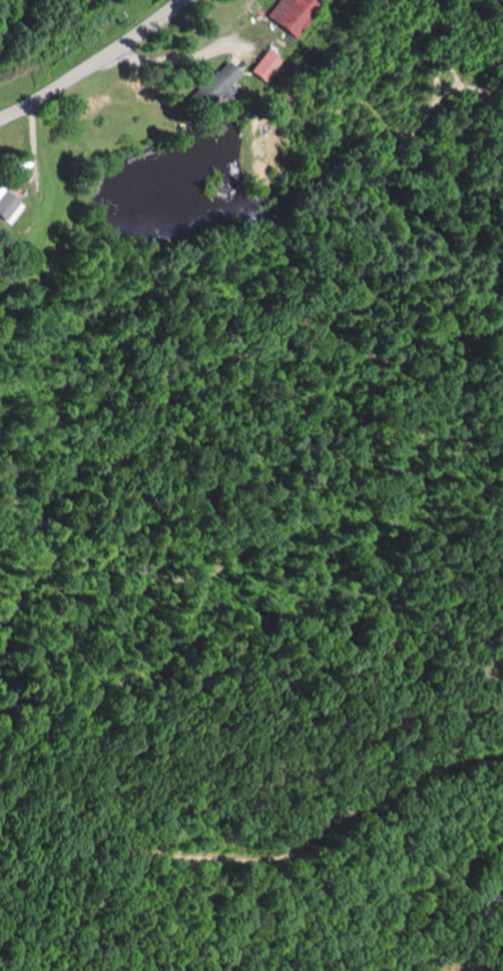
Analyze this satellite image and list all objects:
building: (302, 15)
road: (97, 64)
building: (274, 66)
building: (228, 84)
building: (7, 205)

